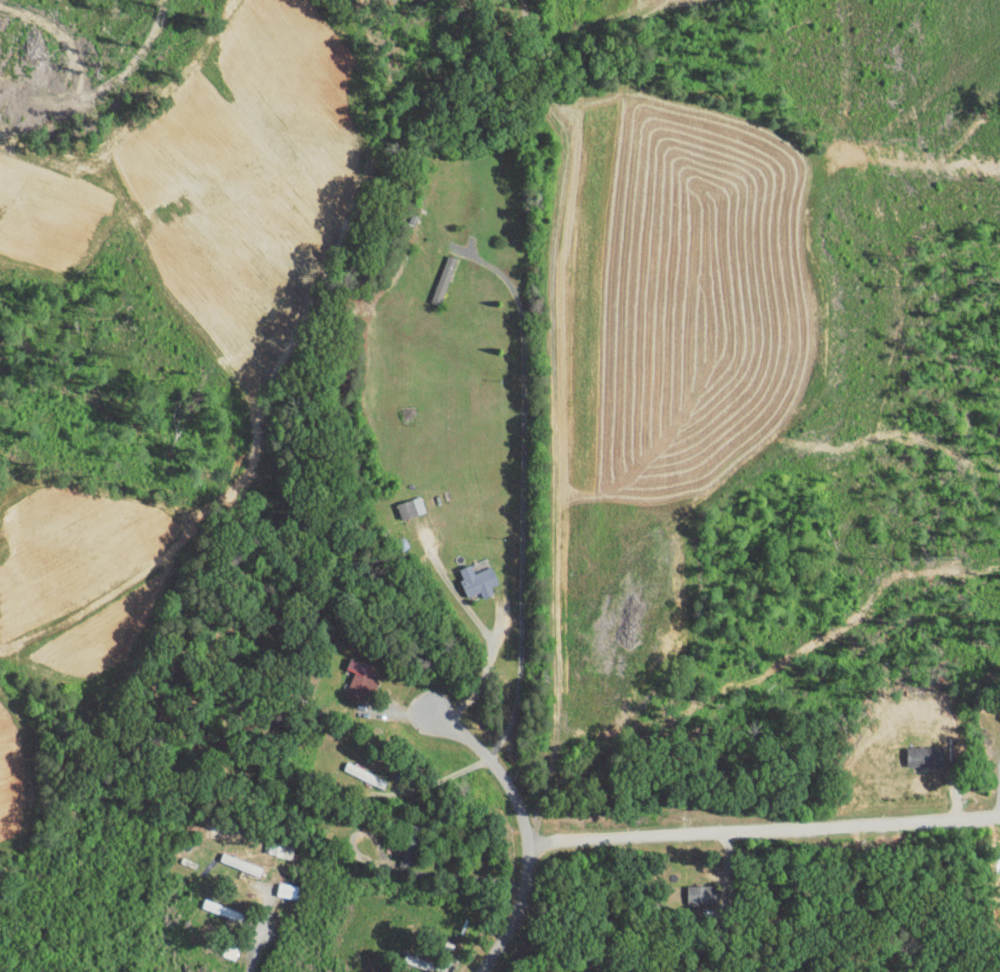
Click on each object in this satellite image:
building: (431, 276)
road: (523, 496)
building: (400, 501)
building: (467, 574)
road: (487, 669)
building: (350, 675)
building: (908, 750)
building: (998, 750)
road: (442, 779)
road: (763, 826)
road: (525, 830)
building: (270, 843)
building: (689, 889)
building: (998, 897)
road: (260, 927)

